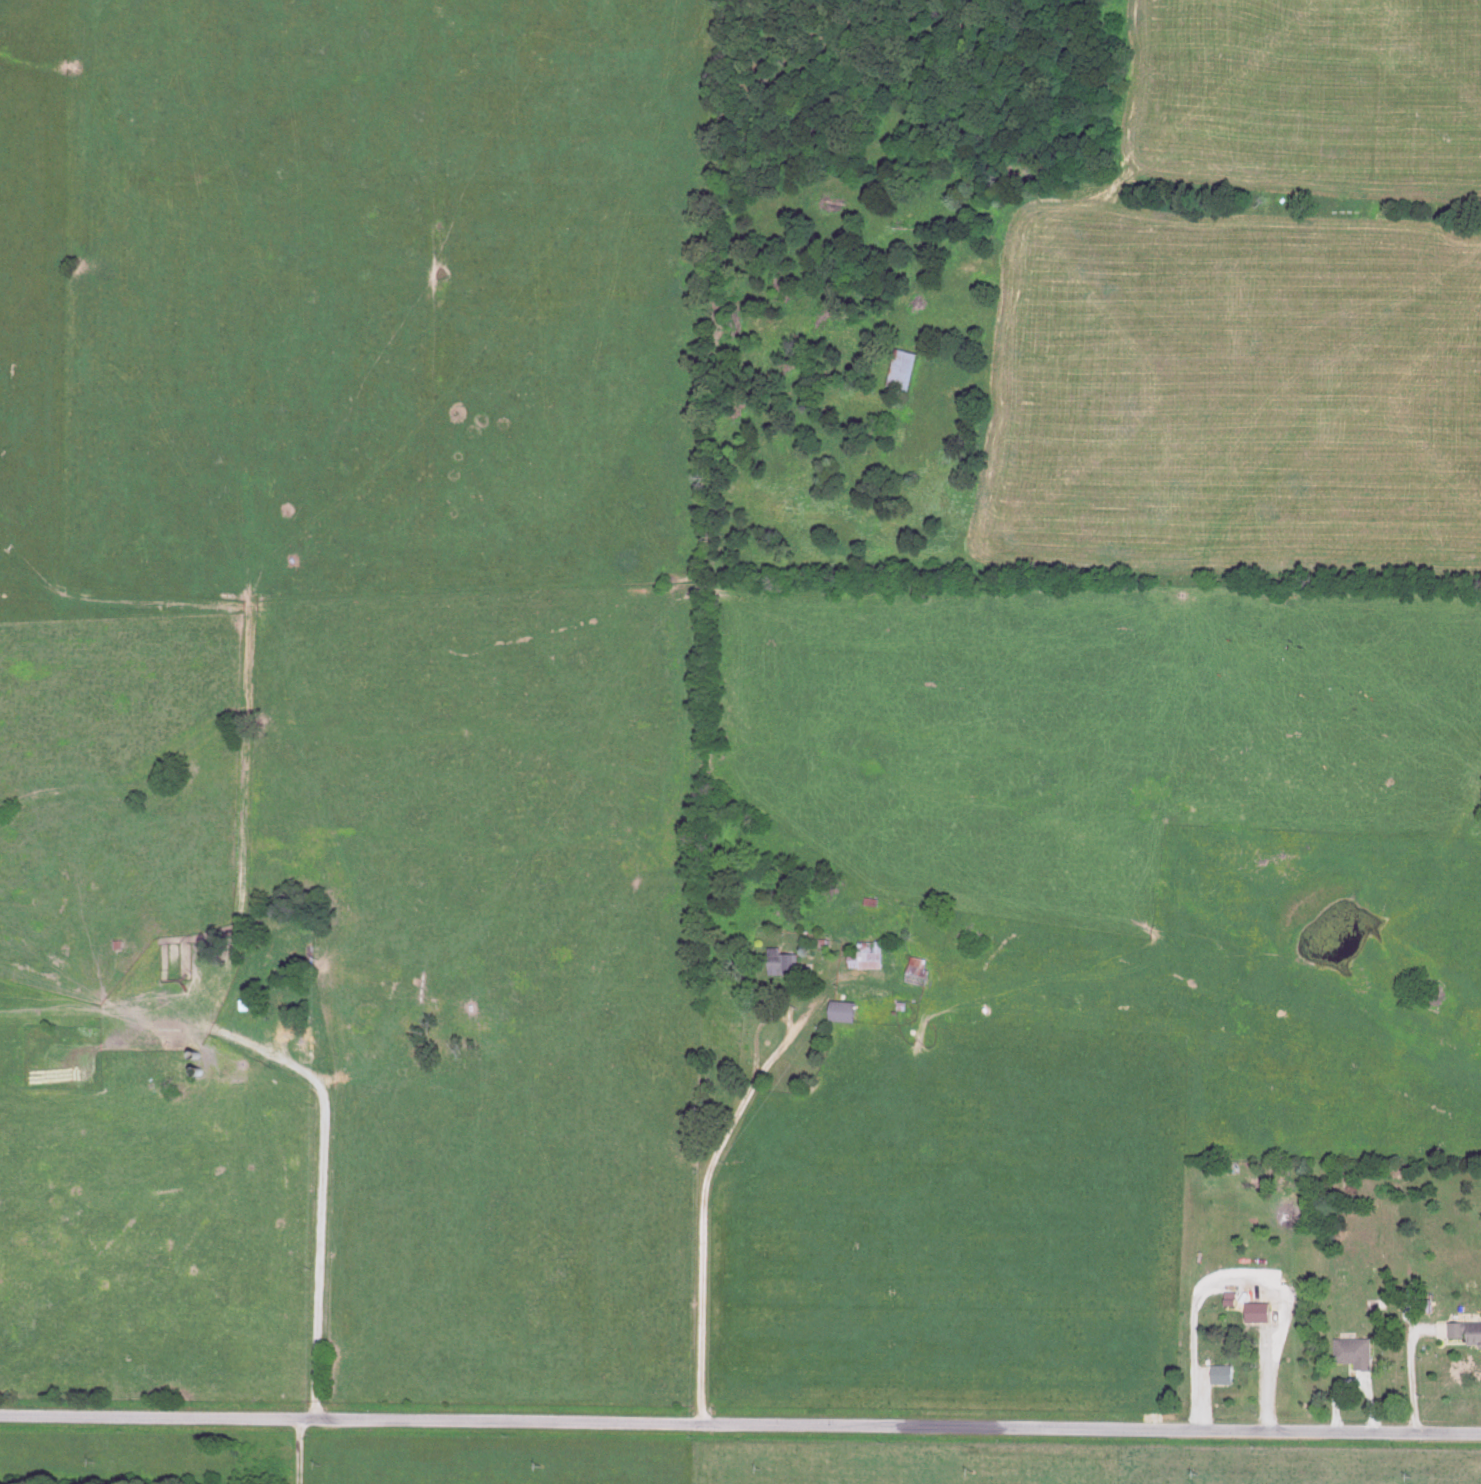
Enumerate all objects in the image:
building: (898, 371)
building: (863, 957)
building: (779, 964)
building: (362, 969)
building: (914, 972)
building: (244, 998)
building: (839, 1013)
building: (163, 1064)
road: (700, 1202)
road: (318, 1219)
building: (1260, 1314)
building: (1462, 1335)
building: (1349, 1354)
road: (1401, 1372)
building: (1217, 1376)
road: (740, 1428)

